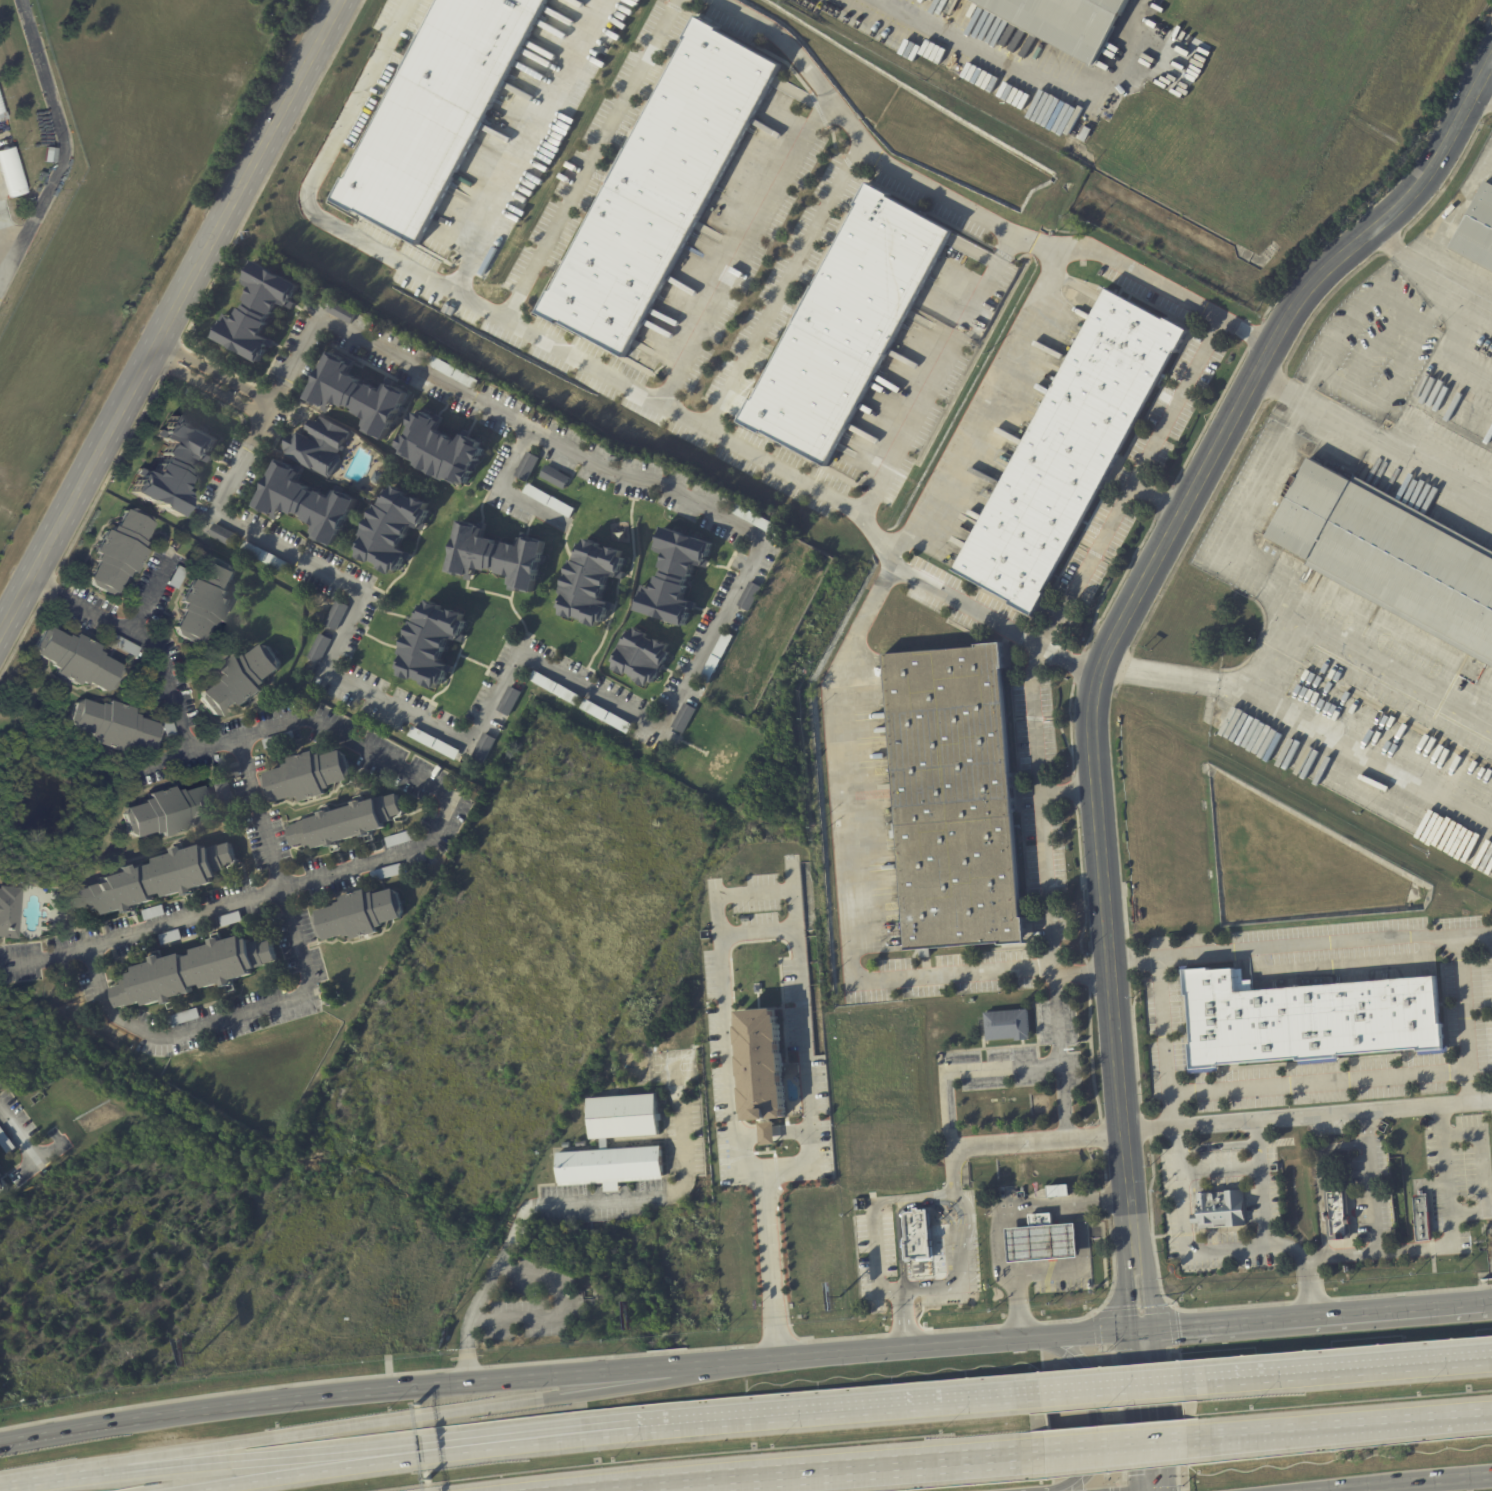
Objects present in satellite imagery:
building: (1063, 22)
road: (1485, 91)
building: (0, 110)
building: (436, 111)
building: (2, 116)
road: (64, 139)
road: (535, 148)
building: (50, 155)
road: (586, 160)
building: (11, 173)
building: (661, 187)
building: (3, 214)
road: (991, 216)
building: (1477, 230)
road: (741, 248)
road: (3, 267)
road: (1428, 274)
road: (1148, 281)
road: (782, 283)
road: (479, 308)
building: (342, 312)
building: (257, 313)
road: (1353, 315)
road: (175, 322)
building: (847, 325)
parking lot: (1370, 345)
road: (1370, 345)
road: (219, 371)
building: (453, 373)
road: (1393, 374)
road: (208, 391)
building: (357, 396)
parking lot: (1176, 400)
road: (983, 406)
road: (268, 410)
road: (1374, 439)
building: (319, 447)
building: (440, 450)
building: (1072, 451)
road: (1371, 460)
building: (174, 466)
building: (527, 467)
building: (377, 476)
building: (554, 477)
road: (1134, 482)
road: (503, 488)
road: (662, 489)
road: (1161, 494)
building: (549, 501)
building: (306, 502)
building: (754, 519)
road: (1234, 520)
road: (1339, 525)
building: (392, 530)
building: (224, 536)
parking lot: (1268, 550)
building: (118, 551)
building: (1391, 555)
building: (496, 557)
building: (265, 558)
building: (673, 578)
building: (590, 583)
road: (49, 585)
building: (750, 596)
road: (152, 600)
building: (205, 601)
road: (970, 605)
building: (336, 616)
road: (344, 628)
road: (1117, 639)
building: (431, 644)
building: (319, 649)
building: (639, 658)
building: (717, 658)
building: (74, 659)
road: (1388, 675)
road: (1238, 679)
building: (239, 681)
building: (555, 689)
building: (509, 702)
building: (606, 717)
building: (684, 718)
building: (112, 726)
building: (433, 743)
building: (1448, 744)
building: (483, 749)
road: (157, 766)
road: (1347, 776)
building: (306, 777)
building: (224, 793)
road: (1071, 795)
road: (450, 799)
building: (954, 799)
building: (165, 812)
building: (346, 824)
building: (400, 838)
crop: (1294, 862)
building: (386, 872)
building: (154, 881)
road: (1048, 890)
road: (756, 895)
road: (848, 895)
building: (8, 911)
building: (153, 912)
building: (358, 915)
road: (759, 934)
road: (1302, 947)
building: (193, 974)
road: (299, 996)
building: (184, 1016)
road: (1463, 1018)
building: (1310, 1020)
building: (1008, 1026)
road: (805, 1039)
road: (727, 1043)
road: (1164, 1046)
building: (762, 1064)
building: (793, 1069)
road: (968, 1073)
road: (1318, 1081)
road: (1223, 1126)
road: (773, 1132)
building: (767, 1133)
road: (19, 1135)
building: (6, 1141)
building: (604, 1142)
building: (566, 1144)
building: (0, 1165)
road: (1236, 1167)
road: (955, 1171)
road: (1319, 1179)
road: (1369, 1183)
building: (2, 1184)
building: (1059, 1190)
road: (1261, 1206)
road: (563, 1207)
building: (1220, 1209)
road: (1469, 1212)
building: (1339, 1214)
road: (875, 1220)
road: (1005, 1220)
building: (1424, 1220)
building: (917, 1235)
building: (1043, 1243)
road: (1420, 1249)
road: (1185, 1252)
road: (1080, 1264)
road: (960, 1266)
road: (775, 1267)
road: (1488, 1299)
road: (1312, 1314)
road: (906, 1319)
traffic signals: (1140, 1328)
road: (960, 1341)
road: (1336, 1367)
road: (1111, 1386)
road: (389, 1389)
road: (1090, 1404)
road: (1146, 1409)
road: (740, 1417)
road: (390, 1421)
road: (1338, 1427)
road: (1116, 1447)
road: (242, 1460)
road: (317, 1469)
road: (823, 1471)
road: (23, 1483)
road: (1416, 1483)

